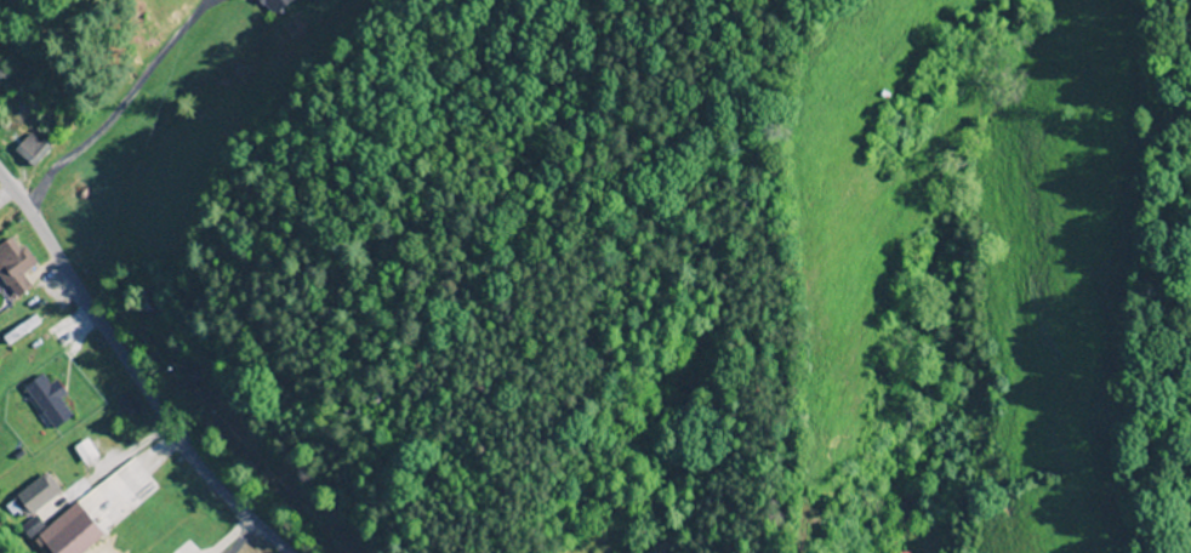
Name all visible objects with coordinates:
building: (270, 5)
building: (29, 150)
building: (11, 272)
building: (149, 306)
road: (129, 376)
building: (186, 380)
building: (45, 403)
building: (33, 501)
building: (74, 537)
building: (246, 551)

